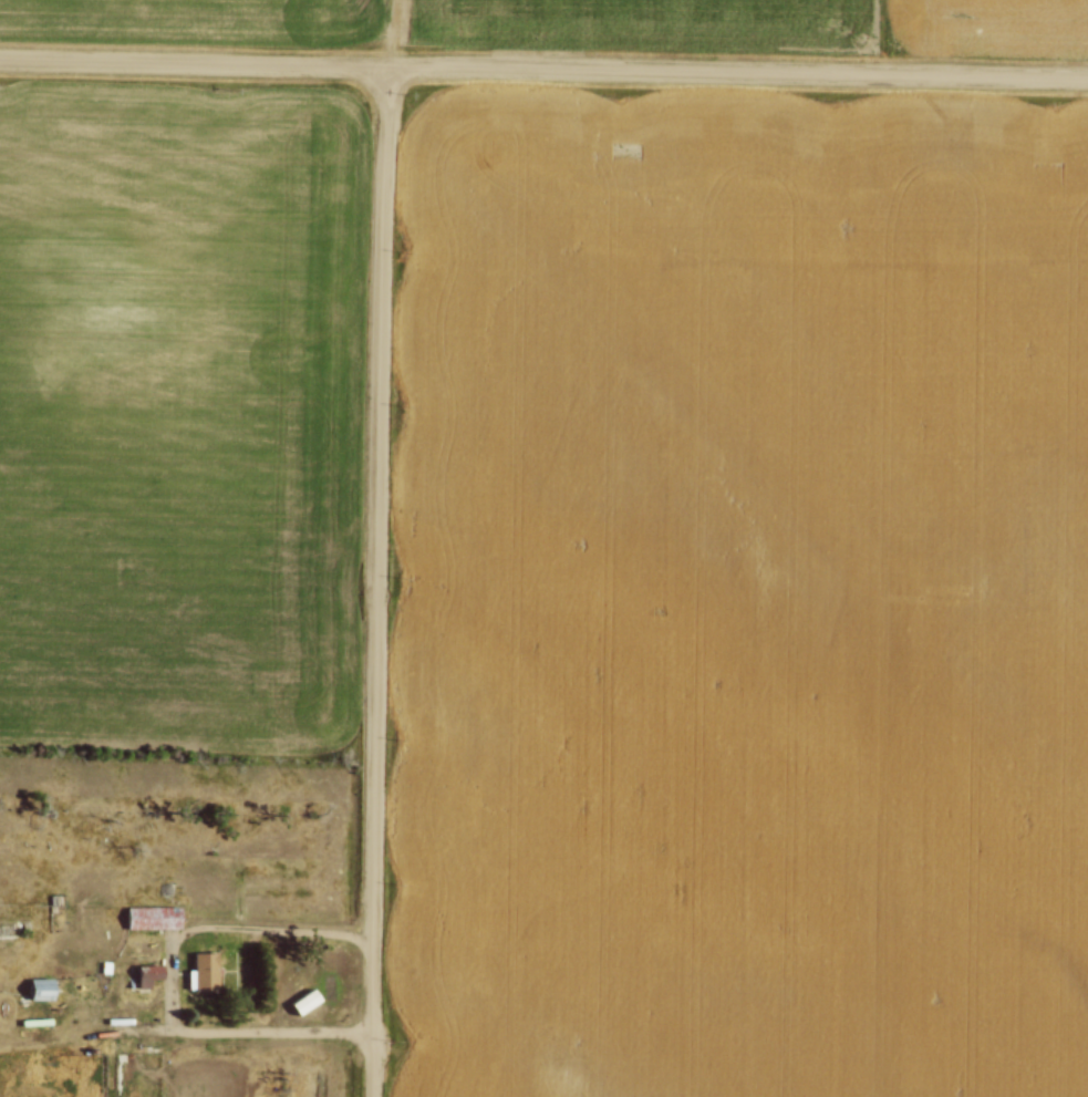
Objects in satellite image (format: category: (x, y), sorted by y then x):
crop: (583, 23)
road: (543, 66)
crop: (182, 412)
road: (377, 580)
crop: (743, 593)
building: (152, 915)
building: (201, 971)
building: (146, 974)
road: (175, 981)
building: (41, 989)
building: (25, 1067)

